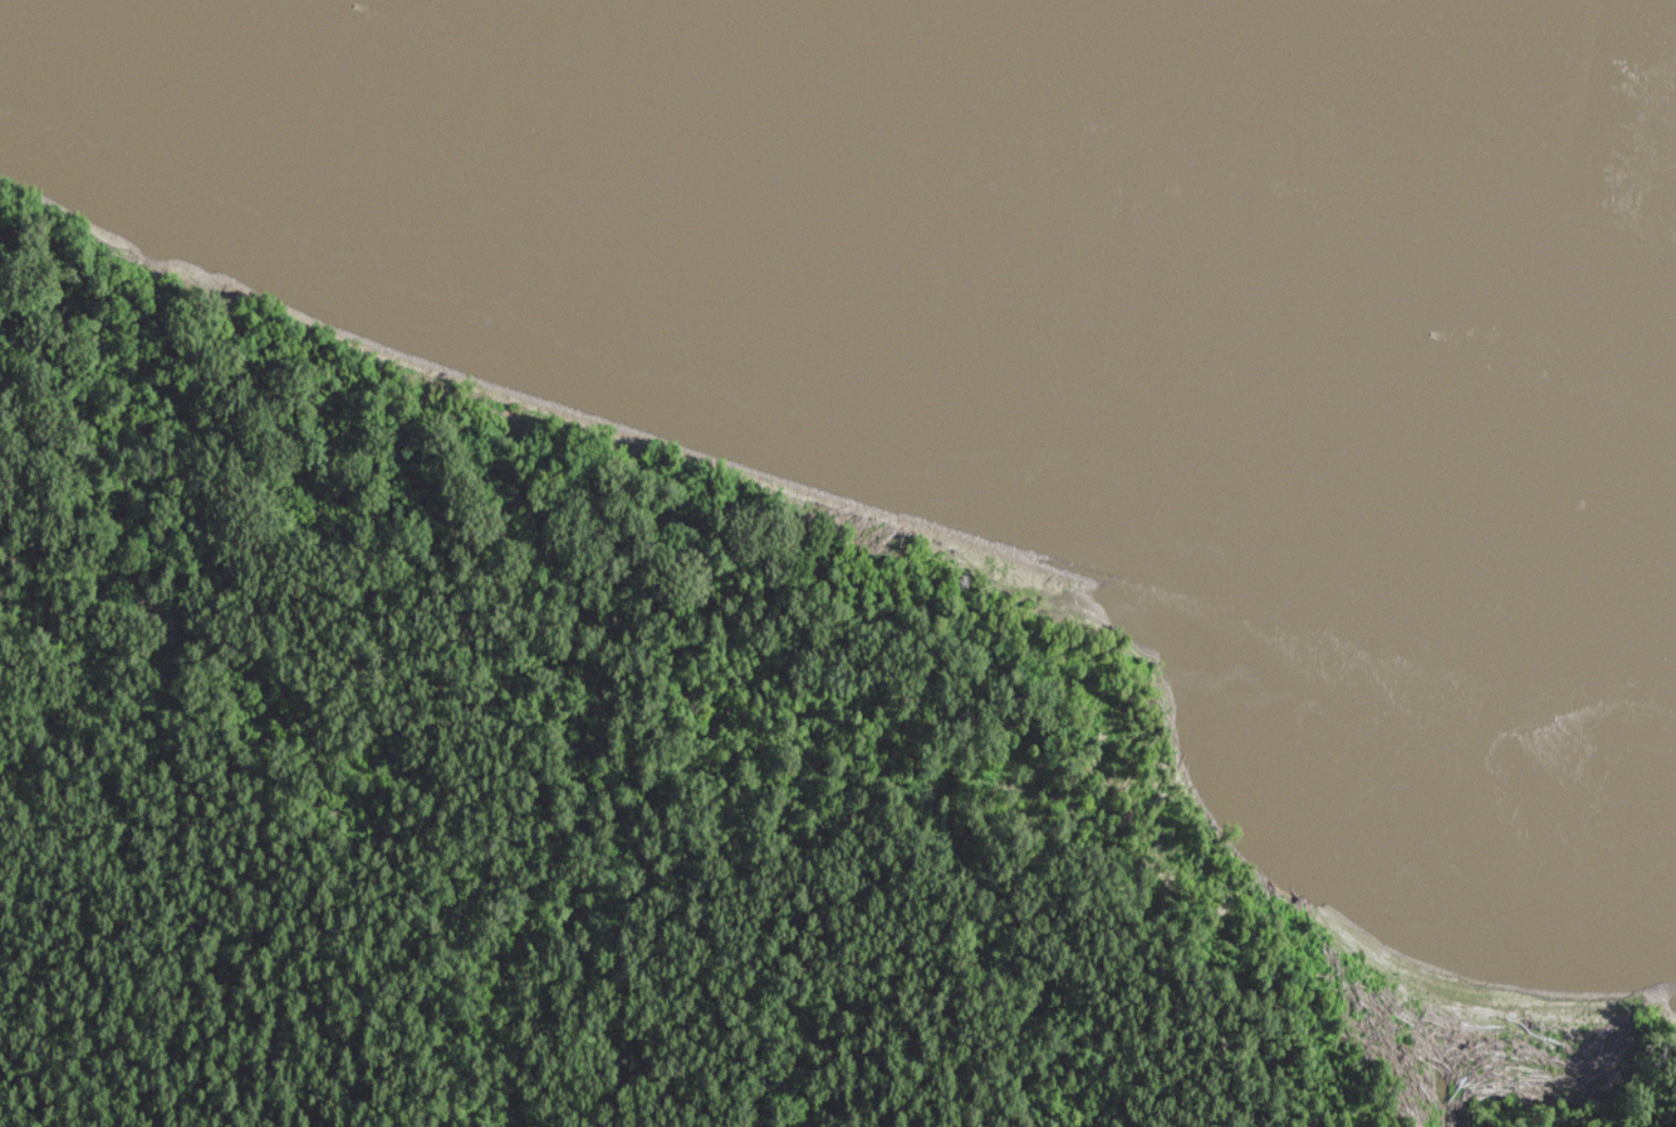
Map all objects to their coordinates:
river: (1287, 136)

